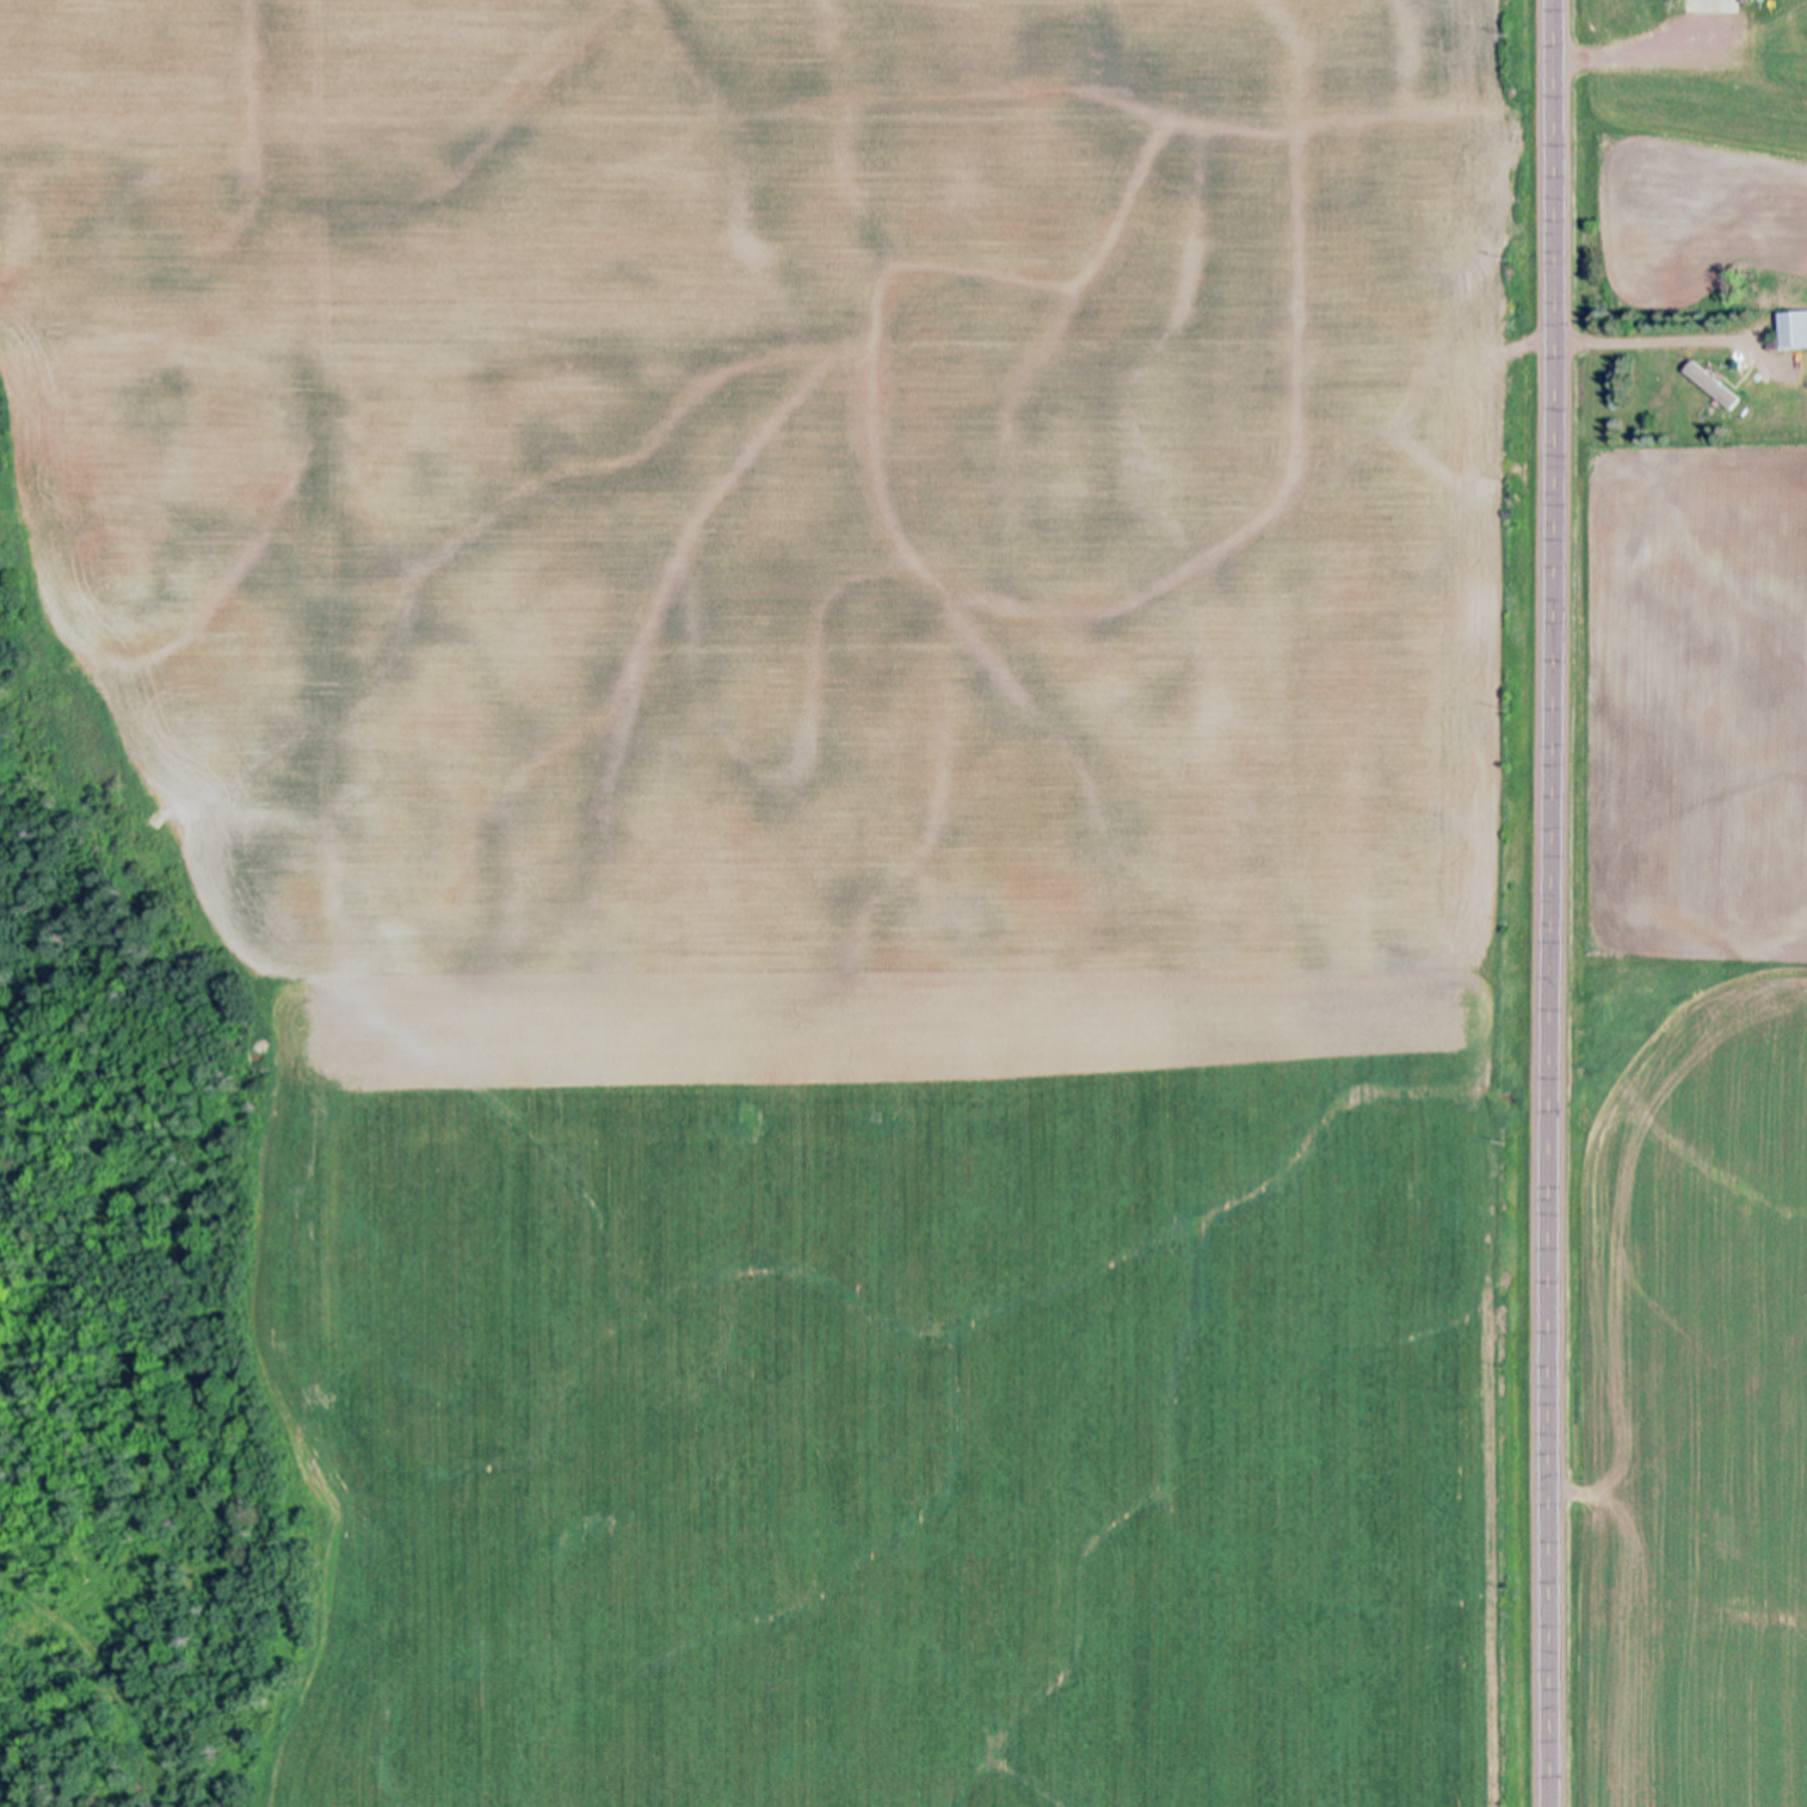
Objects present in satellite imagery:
building: (1704, 7)
building: (1791, 328)
building: (1713, 383)
road: (1554, 903)

